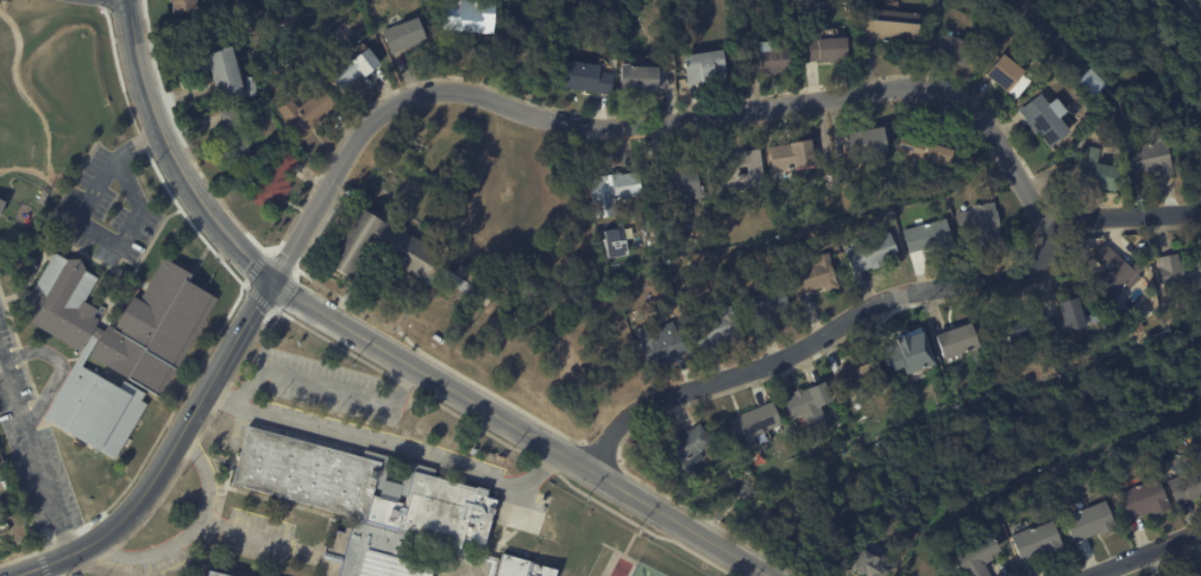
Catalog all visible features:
building: (182, 6)
building: (471, 17)
building: (888, 26)
building: (404, 37)
building: (950, 49)
building: (824, 50)
building: (767, 59)
building: (700, 65)
building: (219, 70)
building: (352, 70)
building: (1007, 76)
building: (585, 78)
building: (637, 80)
building: (250, 87)
building: (306, 112)
building: (1044, 121)
road: (668, 122)
building: (233, 137)
building: (864, 143)
building: (923, 153)
road: (171, 156)
building: (791, 157)
building: (1069, 157)
building: (1118, 157)
building: (1153, 158)
building: (1096, 172)
building: (736, 173)
building: (275, 182)
building: (679, 183)
building: (1073, 184)
building: (612, 192)
road: (1030, 194)
building: (43, 195)
building: (1, 204)
road: (1124, 216)
building: (981, 224)
road: (88, 226)
building: (671, 227)
road: (303, 232)
building: (662, 236)
building: (926, 236)
building: (615, 241)
building: (870, 253)
building: (394, 255)
building: (1115, 273)
building: (1178, 273)
building: (815, 277)
building: (765, 306)
building: (1067, 319)
building: (713, 328)
building: (1018, 334)
road: (822, 336)
building: (957, 342)
building: (662, 343)
building: (117, 347)
building: (907, 347)
building: (938, 363)
road: (58, 367)
building: (859, 381)
road: (323, 382)
parking lot: (329, 386)
building: (807, 405)
building: (753, 425)
road: (517, 430)
road: (385, 448)
building: (685, 452)
road: (170, 454)
road: (36, 455)
building: (1188, 482)
building: (4, 483)
building: (746, 492)
building: (1143, 500)
building: (363, 504)
building: (93, 521)
building: (1089, 523)
road: (238, 533)
road: (1191, 536)
road: (189, 537)
parking lot: (257, 537)
building: (1036, 543)
road: (1139, 558)
building: (979, 561)
building: (874, 565)
building: (521, 568)
track: (621, 568)
building: (214, 574)
road: (29, 575)
building: (938, 575)
building: (1195, 575)

